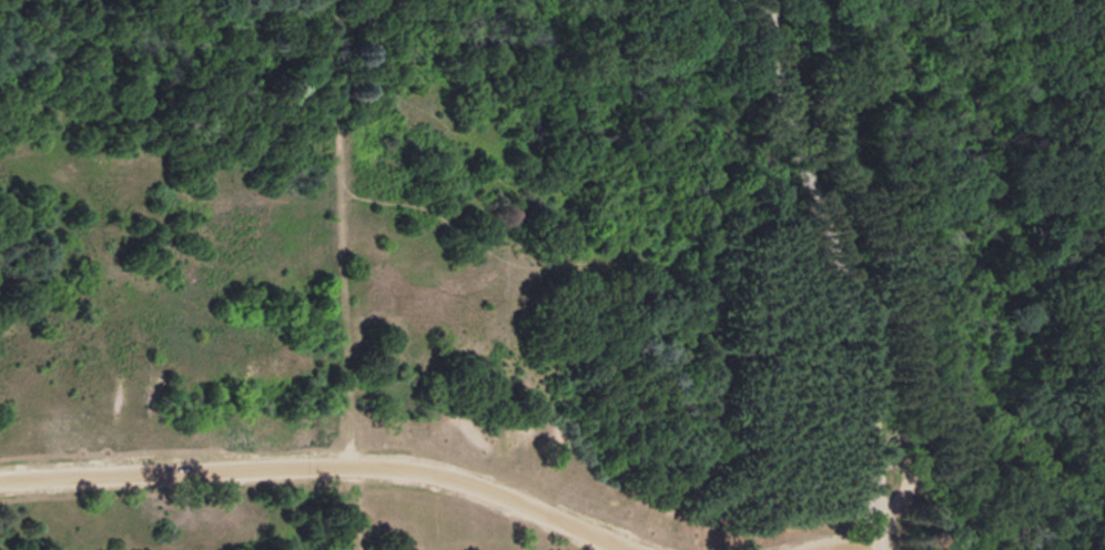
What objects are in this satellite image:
road: (709, 16)
road: (487, 254)
road: (837, 272)
park: (552, 275)
road: (341, 307)
road: (442, 448)
road: (179, 466)
road: (496, 492)
road: (352, 506)
road: (858, 544)

